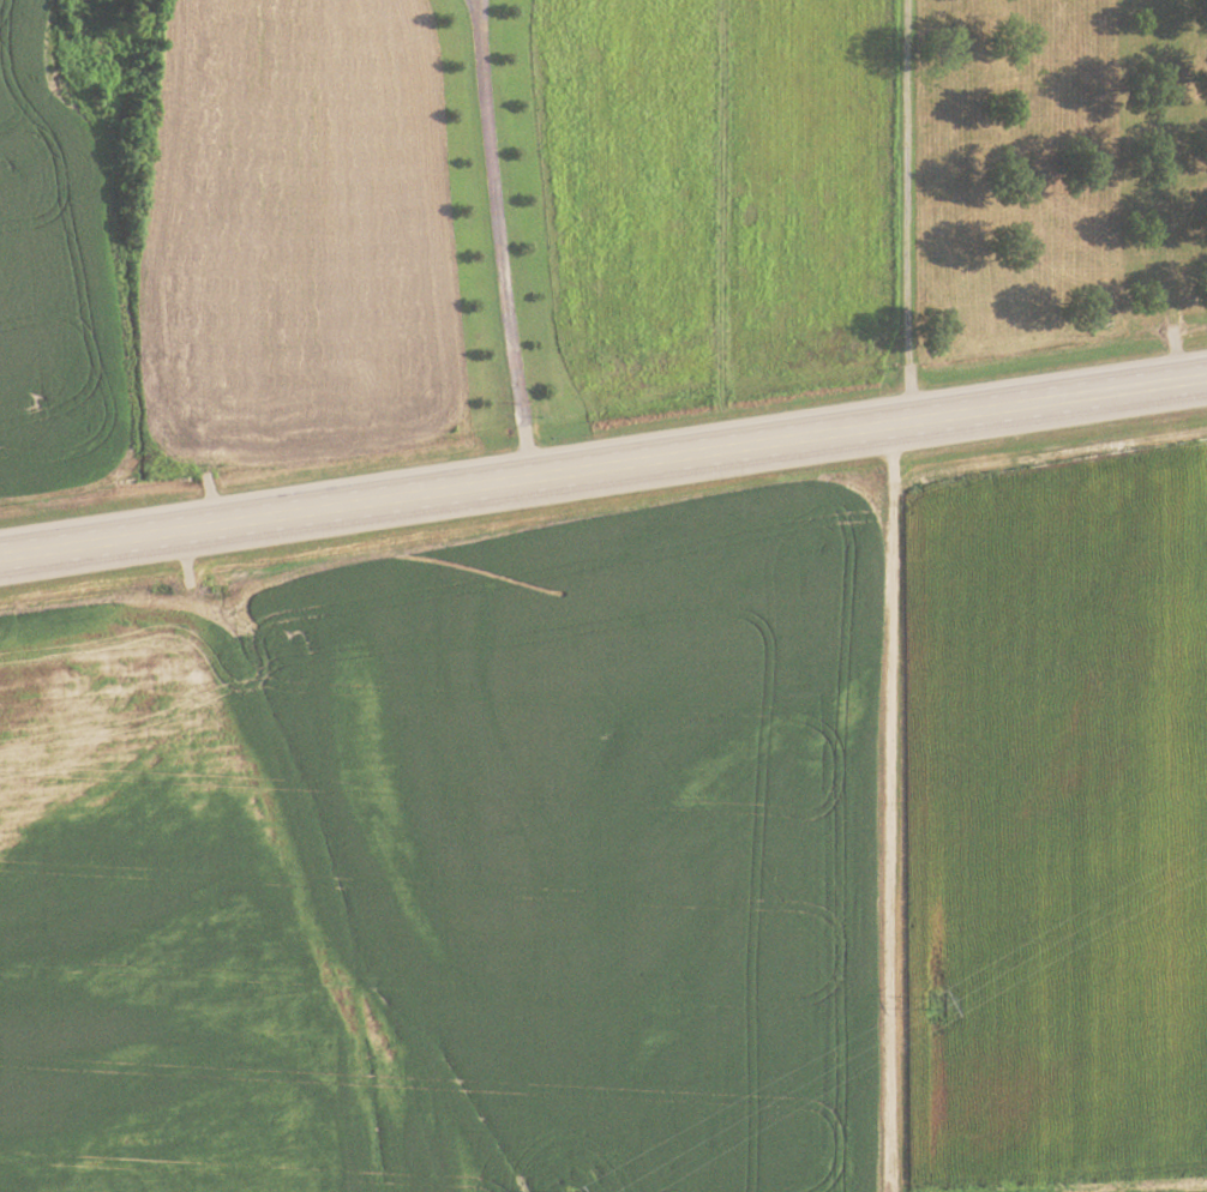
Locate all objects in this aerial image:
road: (912, 205)
road: (499, 233)
road: (603, 454)
power tower: (936, 1004)

